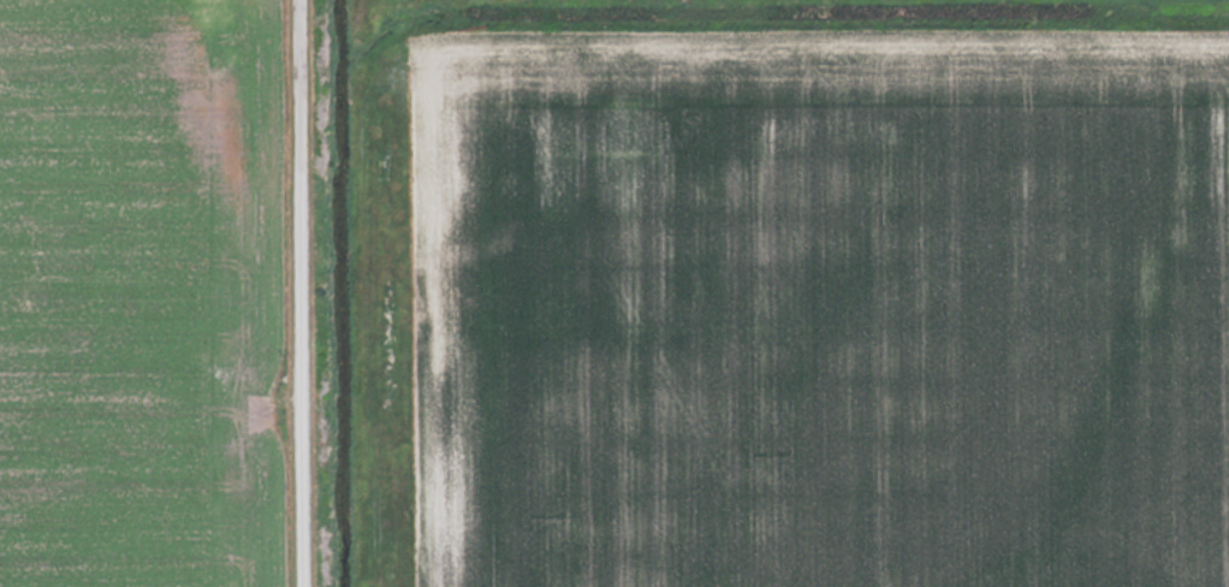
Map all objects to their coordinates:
road: (309, 293)

